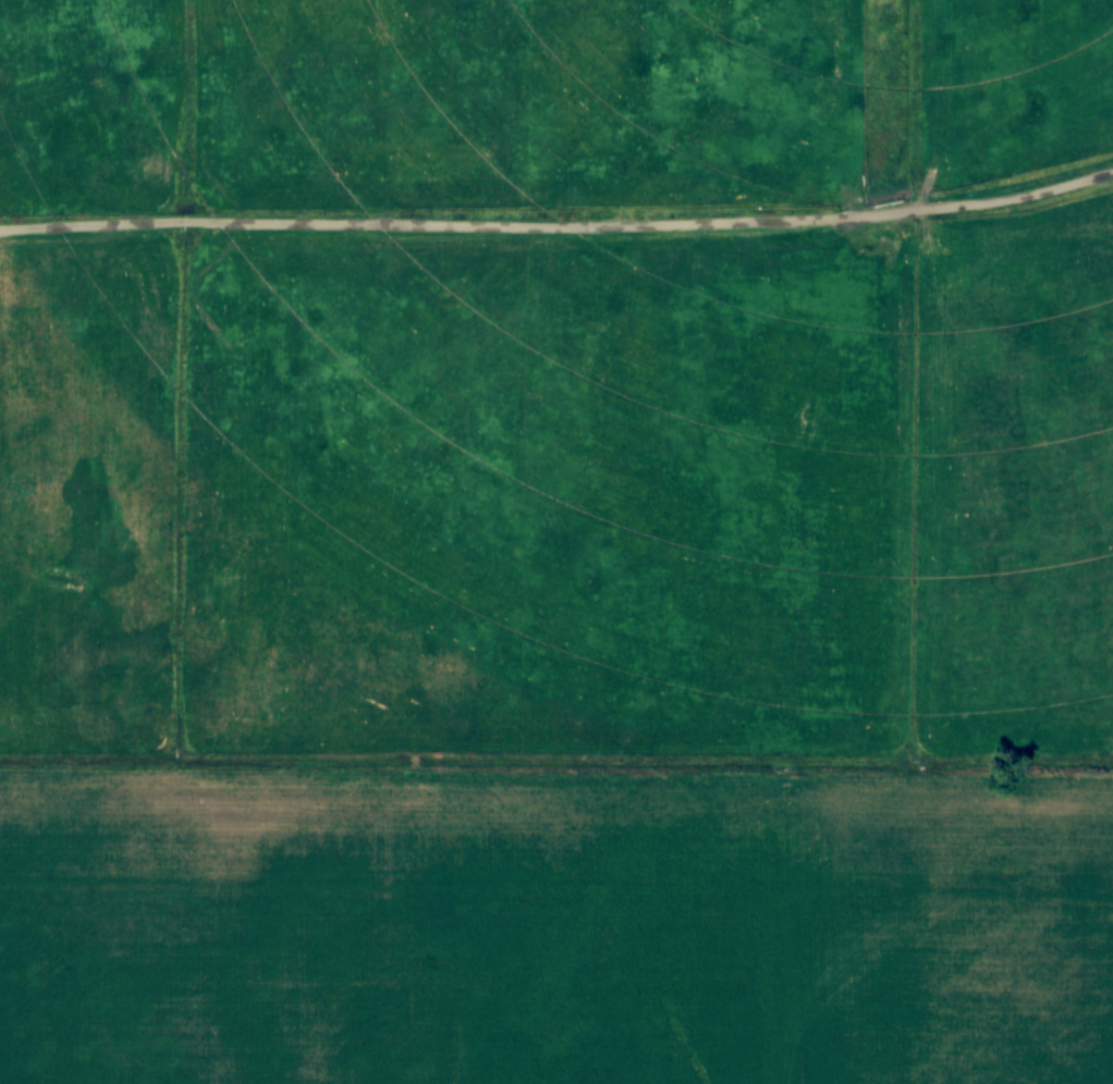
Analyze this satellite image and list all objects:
road: (558, 225)

